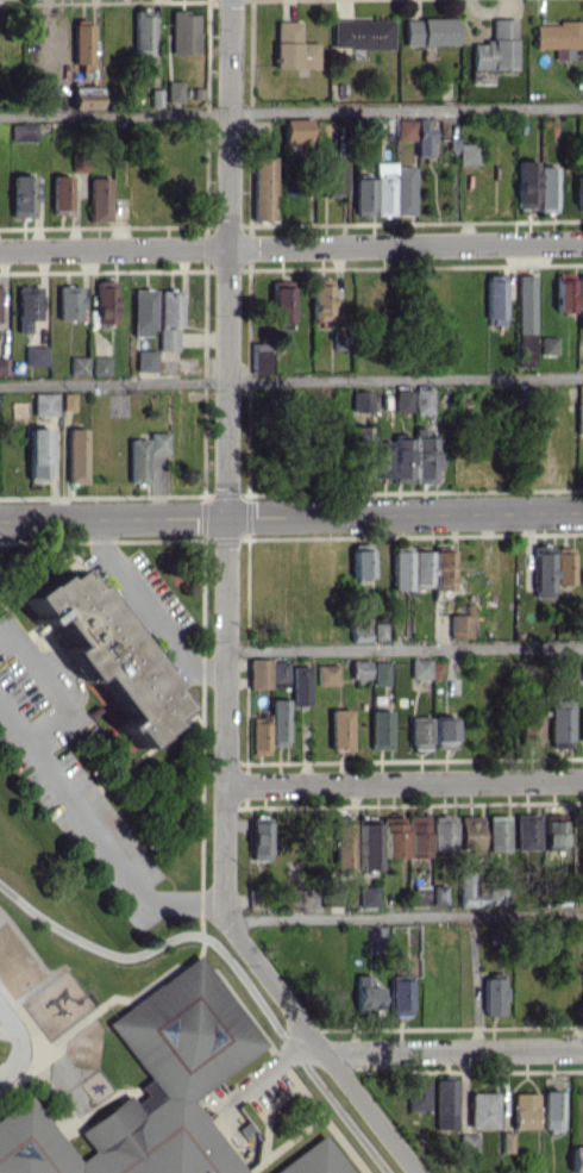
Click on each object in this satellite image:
building: (428, 31)
building: (142, 32)
building: (183, 32)
building: (361, 33)
building: (559, 35)
building: (81, 44)
building: (291, 48)
building: (493, 51)
building: (174, 91)
building: (84, 96)
road: (290, 112)
building: (405, 129)
building: (295, 130)
building: (23, 131)
building: (422, 137)
building: (466, 154)
building: (333, 174)
building: (525, 183)
building: (262, 188)
building: (545, 188)
building: (405, 189)
building: (579, 191)
building: (61, 192)
building: (23, 195)
building: (363, 195)
building: (99, 199)
road: (290, 247)
building: (564, 292)
building: (579, 294)
building: (320, 299)
building: (495, 299)
building: (69, 301)
building: (105, 301)
building: (280, 301)
building: (525, 302)
building: (27, 306)
building: (170, 307)
building: (143, 312)
building: (168, 338)
building: (548, 345)
building: (525, 349)
building: (36, 355)
building: (259, 357)
building: (145, 361)
building: (4, 366)
building: (79, 366)
building: (101, 366)
road: (291, 381)
building: (579, 392)
building: (68, 400)
building: (361, 400)
building: (402, 400)
building: (422, 400)
building: (44, 404)
building: (578, 418)
building: (158, 442)
building: (359, 450)
building: (38, 453)
building: (76, 455)
building: (424, 457)
building: (381, 458)
building: (137, 460)
building: (401, 460)
road: (291, 517)
building: (359, 560)
building: (563, 566)
building: (421, 568)
building: (400, 569)
building: (440, 570)
building: (541, 570)
road: (149, 609)
road: (226, 617)
building: (459, 625)
building: (358, 626)
building: (378, 630)
road: (405, 648)
building: (100, 651)
building: (566, 666)
building: (582, 667)
building: (359, 668)
building: (419, 668)
building: (267, 673)
building: (380, 673)
building: (326, 674)
building: (299, 685)
building: (277, 722)
building: (559, 723)
building: (581, 724)
building: (339, 729)
building: (380, 729)
building: (528, 729)
building: (419, 732)
building: (443, 732)
building: (259, 737)
road: (405, 782)
building: (441, 831)
building: (526, 831)
road: (96, 832)
building: (469, 832)
building: (496, 832)
building: (416, 835)
building: (552, 835)
building: (391, 836)
building: (258, 837)
building: (366, 842)
building: (343, 843)
building: (438, 894)
building: (368, 896)
building: (496, 896)
road: (406, 916)
road: (228, 960)
building: (365, 993)
building: (491, 993)
building: (399, 997)
road: (19, 1044)
road: (455, 1050)
building: (149, 1088)
building: (418, 1092)
building: (445, 1103)
building: (481, 1110)
building: (524, 1110)
building: (551, 1110)
building: (506, 1141)
building: (468, 1142)
building: (576, 1155)
building: (314, 1160)

